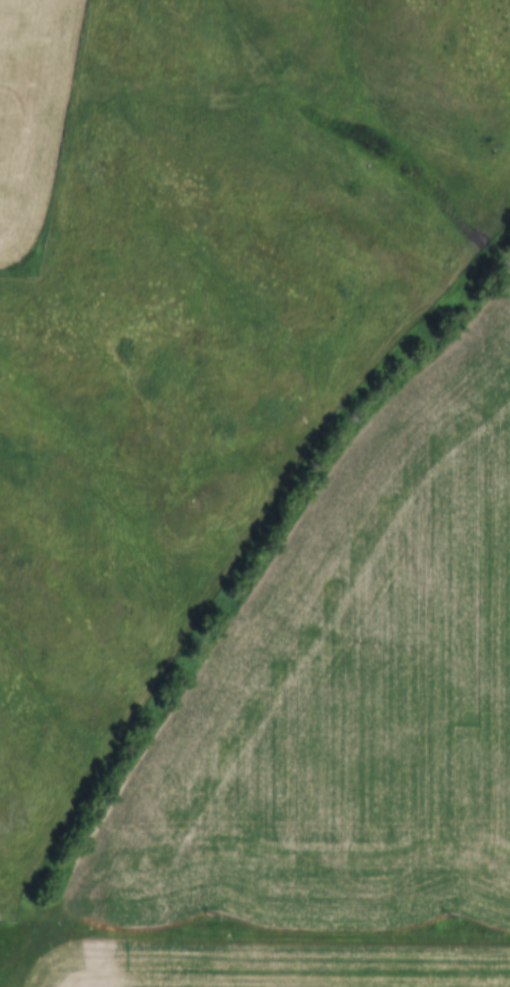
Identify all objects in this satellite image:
road: (45, 293)
road: (103, 788)
road: (274, 934)

